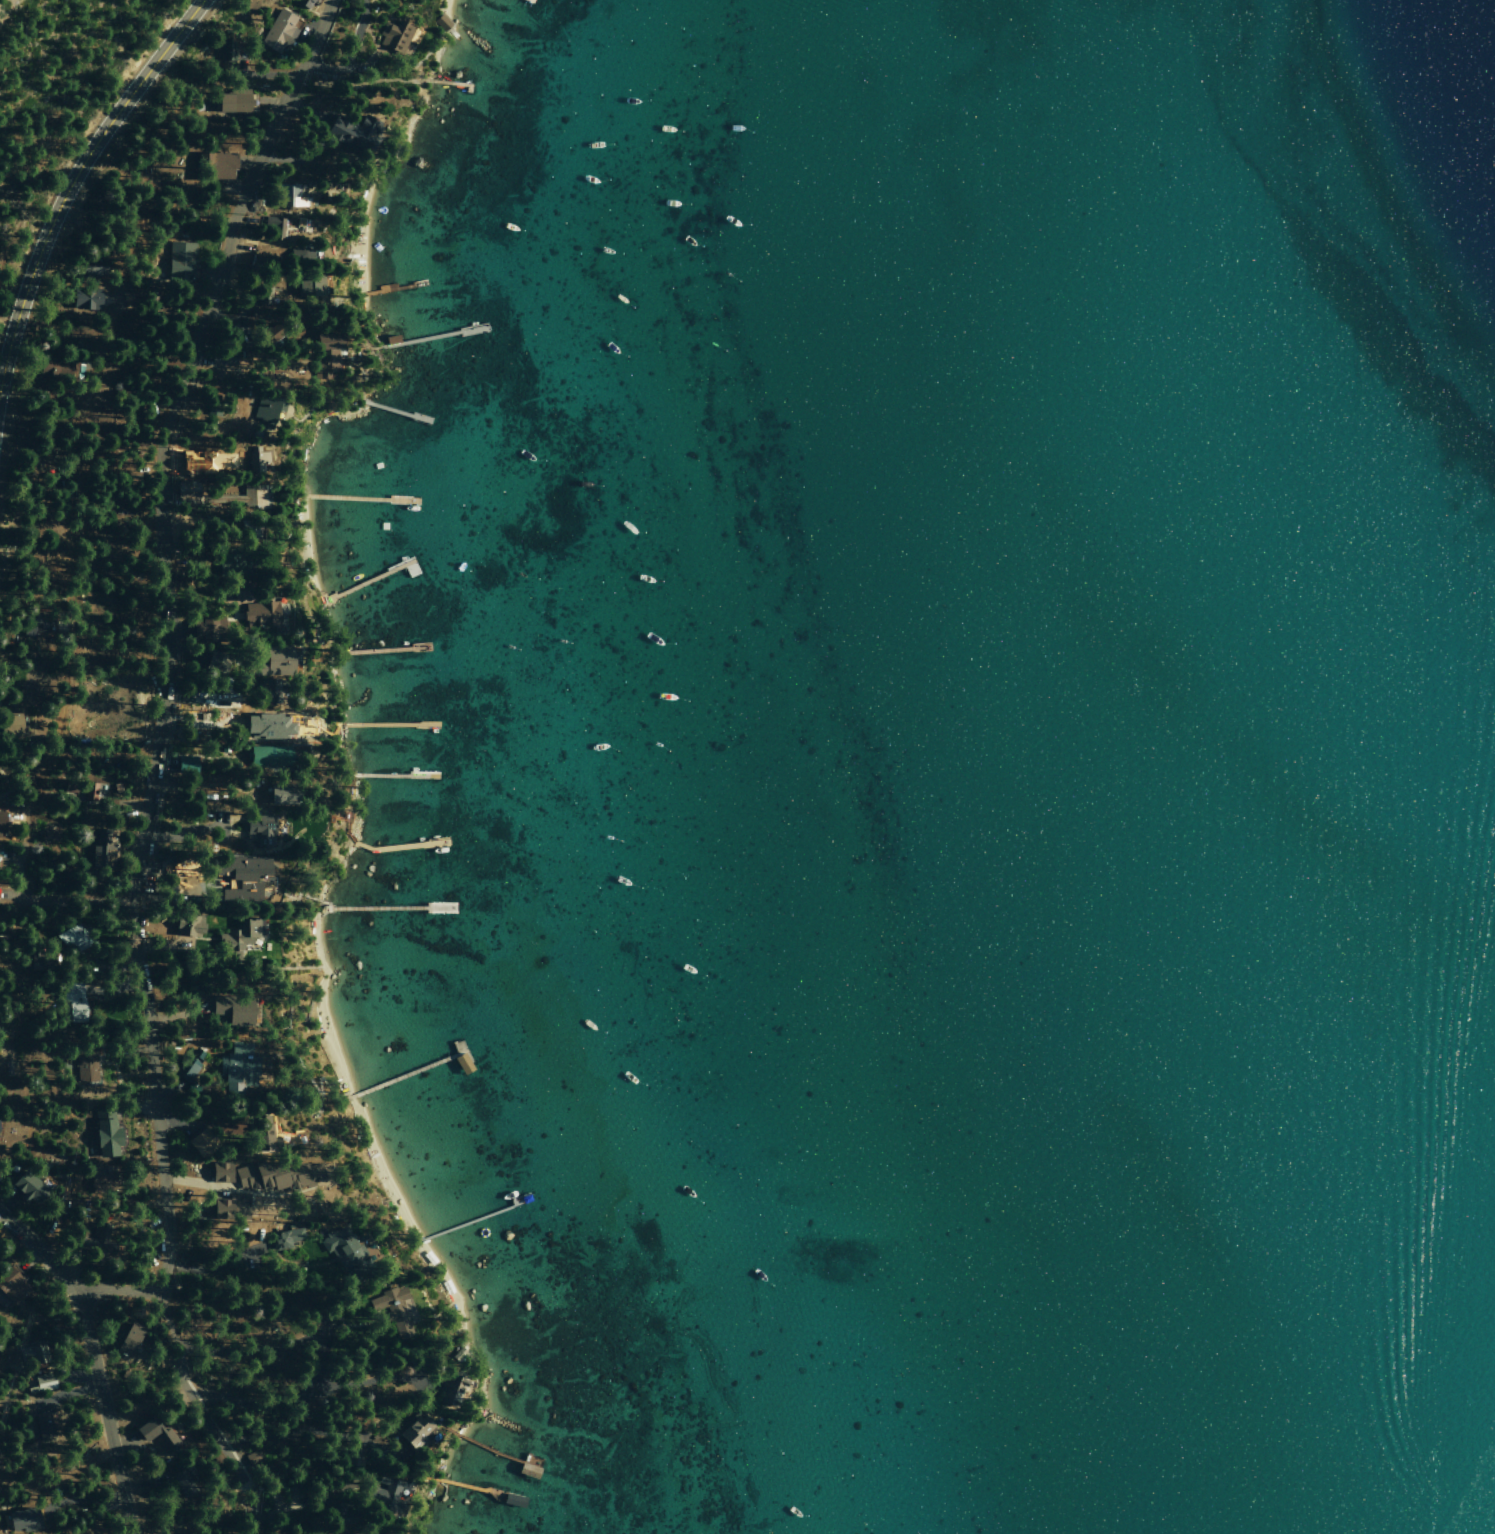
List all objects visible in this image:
building: (303, 3)
building: (441, 22)
building: (277, 32)
building: (394, 36)
building: (225, 51)
pier: (446, 82)
building: (232, 101)
building: (350, 131)
building: (212, 164)
road: (73, 177)
building: (287, 195)
building: (277, 226)
building: (179, 260)
building: (90, 267)
building: (307, 287)
pier: (390, 288)
building: (82, 298)
building: (259, 302)
pier: (415, 337)
building: (324, 356)
building: (220, 357)
pier: (377, 407)
building: (265, 408)
road: (161, 435)
building: (255, 459)
building: (187, 493)
building: (257, 498)
pier: (358, 498)
building: (230, 562)
road: (67, 569)
pier: (370, 576)
building: (236, 590)
building: (258, 614)
building: (34, 623)
building: (204, 629)
pier: (383, 650)
building: (212, 661)
building: (271, 662)
building: (264, 693)
pier: (388, 722)
building: (9, 725)
building: (266, 725)
building: (266, 756)
building: (184, 765)
pier: (393, 775)
building: (93, 790)
building: (281, 795)
building: (258, 830)
building: (49, 835)
pier: (384, 848)
building: (100, 850)
building: (256, 876)
pier: (387, 906)
building: (187, 925)
building: (237, 937)
building: (70, 940)
building: (71, 1002)
building: (235, 1009)
pier: (462, 1052)
building: (84, 1063)
building: (239, 1067)
building: (183, 1068)
pier: (405, 1072)
road: (153, 1096)
building: (262, 1131)
building: (104, 1132)
building: (199, 1142)
building: (219, 1171)
building: (99, 1175)
building: (24, 1186)
building: (230, 1206)
pier: (475, 1215)
building: (283, 1238)
building: (344, 1250)
building: (10, 1284)
road: (116, 1292)
building: (3, 1302)
building: (394, 1309)
building: (127, 1339)
building: (29, 1354)
road: (92, 1360)
building: (43, 1382)
building: (450, 1390)
road: (201, 1415)
building: (43, 1425)
building: (165, 1440)
pier: (495, 1451)
building: (252, 1457)
building: (354, 1457)
building: (527, 1471)
building: (185, 1482)
pier: (478, 1489)
building: (387, 1495)
building: (510, 1499)
building: (337, 1513)
building: (21, 1519)
building: (364, 1533)

